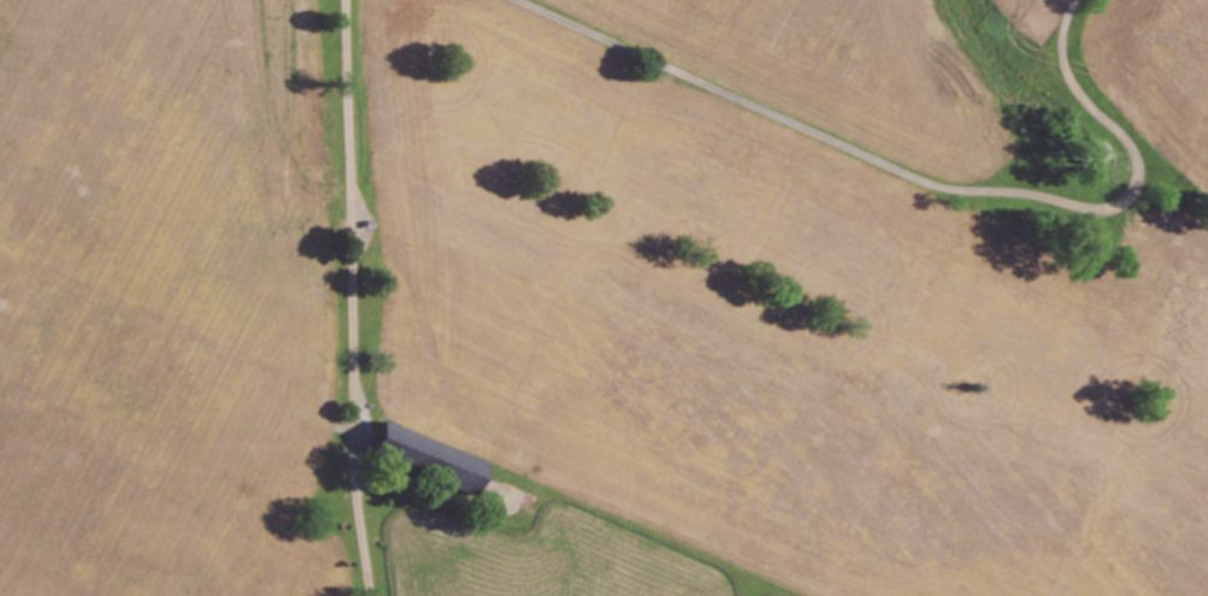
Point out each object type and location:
road: (917, 190)
road: (350, 297)
building: (430, 456)

